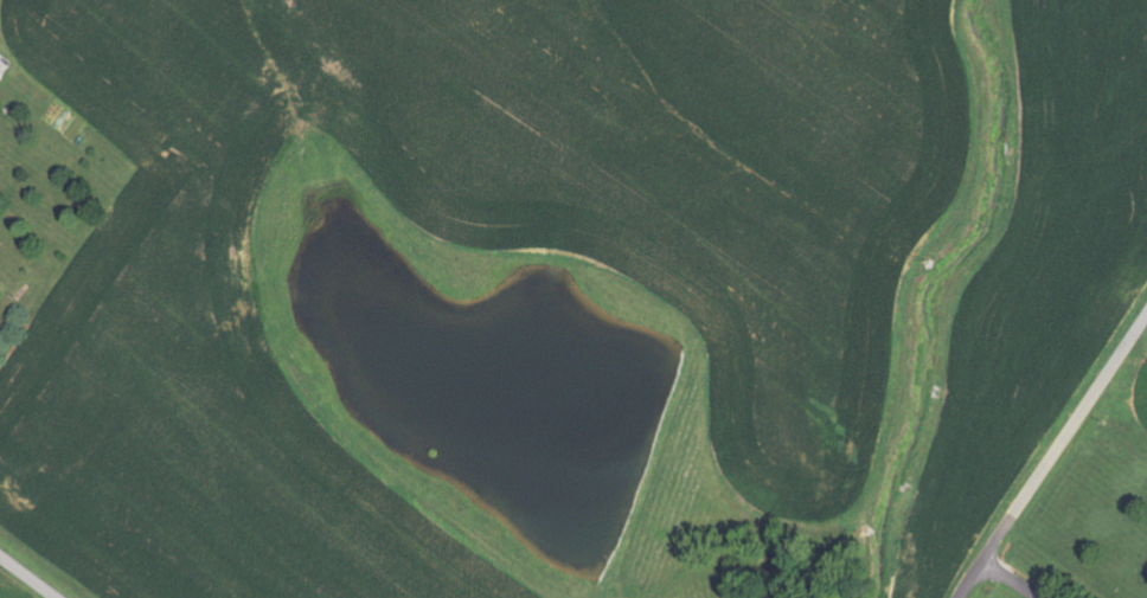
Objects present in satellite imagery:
building: (1, 76)
road: (1062, 432)
road: (968, 578)
road: (1007, 578)
road: (25, 579)

